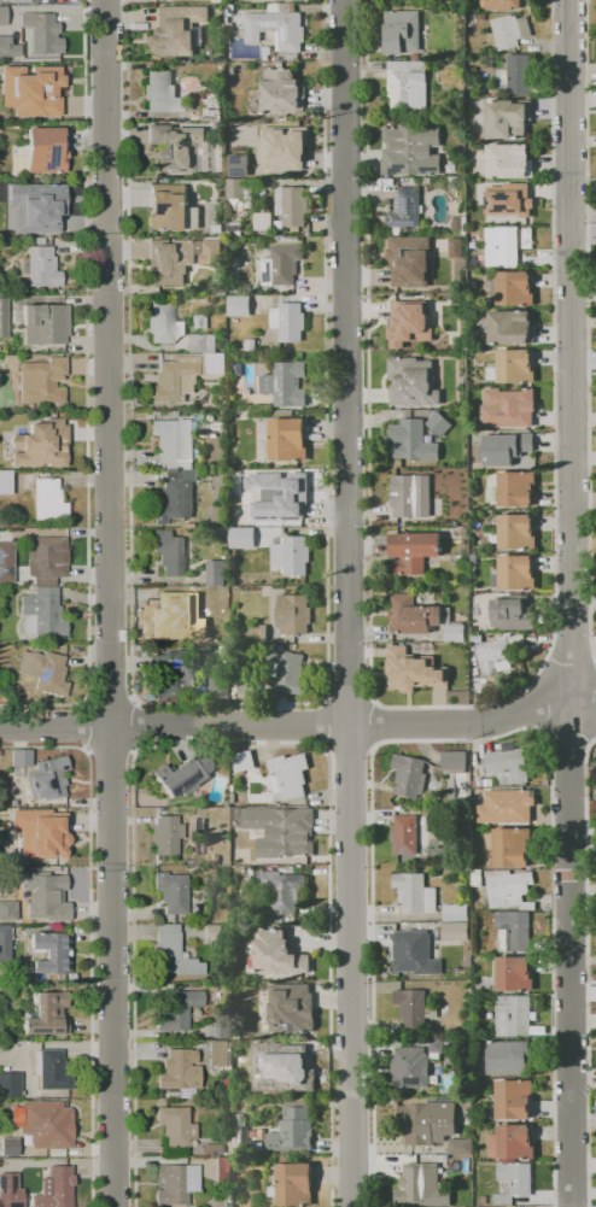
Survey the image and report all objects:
building: (19, 0)
building: (218, 0)
building: (502, 4)
building: (229, 8)
building: (2, 12)
building: (481, 17)
building: (227, 18)
building: (275, 25)
building: (175, 28)
building: (402, 30)
building: (509, 30)
building: (42, 34)
building: (7, 47)
building: (37, 60)
building: (233, 70)
building: (519, 74)
building: (408, 84)
building: (33, 89)
building: (493, 90)
building: (281, 92)
building: (163, 93)
building: (211, 104)
building: (508, 118)
building: (280, 121)
building: (175, 146)
building: (281, 147)
building: (408, 148)
building: (45, 150)
building: (509, 163)
building: (238, 165)
building: (241, 186)
building: (509, 199)
building: (291, 204)
building: (405, 207)
building: (171, 209)
building: (41, 210)
building: (263, 221)
building: (458, 223)
building: (235, 224)
building: (5, 225)
building: (217, 227)
building: (506, 244)
building: (456, 247)
building: (211, 253)
building: (170, 260)
building: (410, 260)
building: (281, 264)
building: (42, 266)
building: (513, 288)
building: (238, 305)
building: (4, 317)
building: (409, 318)
building: (200, 321)
building: (288, 321)
building: (45, 323)
building: (163, 324)
building: (510, 327)
building: (204, 341)
building: (251, 345)
building: (215, 362)
building: (513, 367)
building: (238, 369)
building: (41, 380)
building: (174, 380)
building: (285, 381)
building: (411, 381)
building: (515, 404)
building: (175, 412)
building: (215, 422)
building: (439, 423)
building: (472, 435)
building: (286, 439)
building: (411, 441)
building: (175, 443)
building: (41, 444)
building: (506, 447)
building: (6, 481)
building: (515, 487)
building: (410, 494)
building: (282, 496)
building: (48, 499)
building: (174, 500)
building: (243, 514)
building: (515, 531)
building: (464, 532)
building: (241, 537)
building: (411, 551)
building: (170, 552)
building: (290, 555)
building: (6, 557)
building: (47, 559)
building: (216, 572)
building: (514, 573)
building: (216, 599)
road: (110, 603)
road: (350, 603)
road: (572, 603)
building: (293, 613)
building: (513, 613)
building: (41, 614)
building: (176, 614)
building: (421, 617)
building: (259, 631)
building: (477, 637)
building: (496, 652)
building: (507, 667)
building: (411, 669)
building: (45, 672)
building: (163, 672)
building: (290, 672)
building: (218, 684)
building: (247, 684)
building: (201, 690)
building: (191, 692)
building: (458, 698)
road: (298, 728)
building: (21, 758)
building: (243, 760)
building: (455, 761)
building: (507, 763)
building: (185, 774)
building: (288, 774)
building: (409, 774)
building: (47, 778)
building: (487, 784)
building: (233, 797)
building: (228, 803)
building: (507, 805)
building: (234, 809)
building: (198, 827)
building: (280, 831)
building: (410, 833)
building: (165, 834)
building: (220, 834)
building: (53, 836)
building: (512, 846)
building: (198, 848)
building: (215, 860)
building: (480, 875)
building: (508, 886)
building: (171, 891)
building: (285, 891)
building: (415, 892)
building: (48, 893)
building: (195, 909)
building: (7, 910)
building: (455, 912)
building: (428, 925)
building: (455, 931)
building: (514, 931)
building: (215, 933)
road: (88, 936)
building: (5, 943)
building: (51, 953)
building: (171, 953)
building: (415, 953)
building: (276, 954)
building: (514, 973)
building: (414, 1007)
building: (175, 1008)
building: (291, 1008)
building: (47, 1014)
building: (513, 1015)
building: (221, 1021)
building: (439, 1048)
building: (220, 1053)
building: (507, 1055)
building: (410, 1067)
building: (49, 1068)
building: (285, 1068)
building: (179, 1070)
building: (244, 1073)
building: (10, 1084)
building: (255, 1091)
building: (514, 1098)
building: (466, 1120)
building: (33, 1123)
building: (427, 1123)
building: (174, 1125)
building: (51, 1126)
building: (293, 1126)
building: (239, 1133)
building: (512, 1142)
building: (10, 1146)
building: (259, 1146)
building: (461, 1146)
building: (212, 1149)
building: (1, 1161)
building: (16, 1166)
building: (222, 1170)
building: (292, 1182)
building: (513, 1182)
building: (175, 1183)
building: (423, 1187)
building: (55, 1188)
building: (525, 1206)

